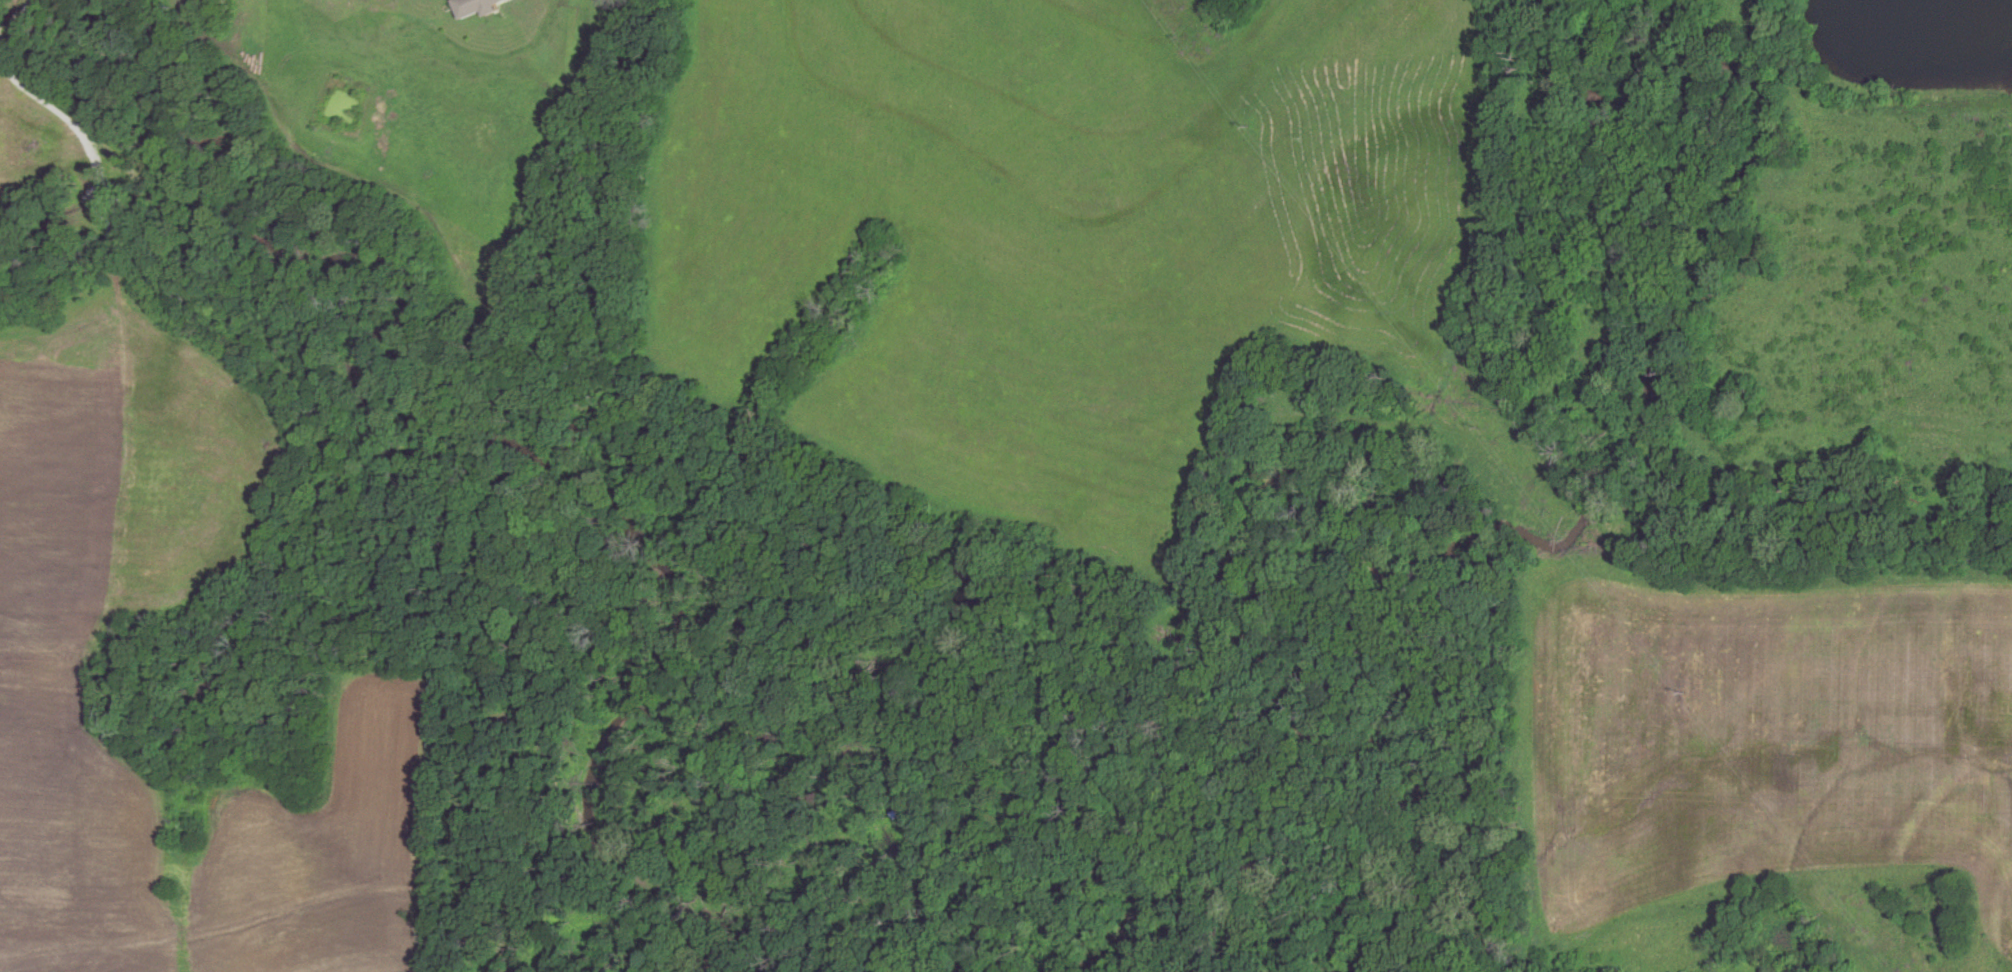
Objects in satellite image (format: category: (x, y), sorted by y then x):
road: (190, 0)
building: (480, 6)
crop: (41, 144)
crop: (94, 618)

